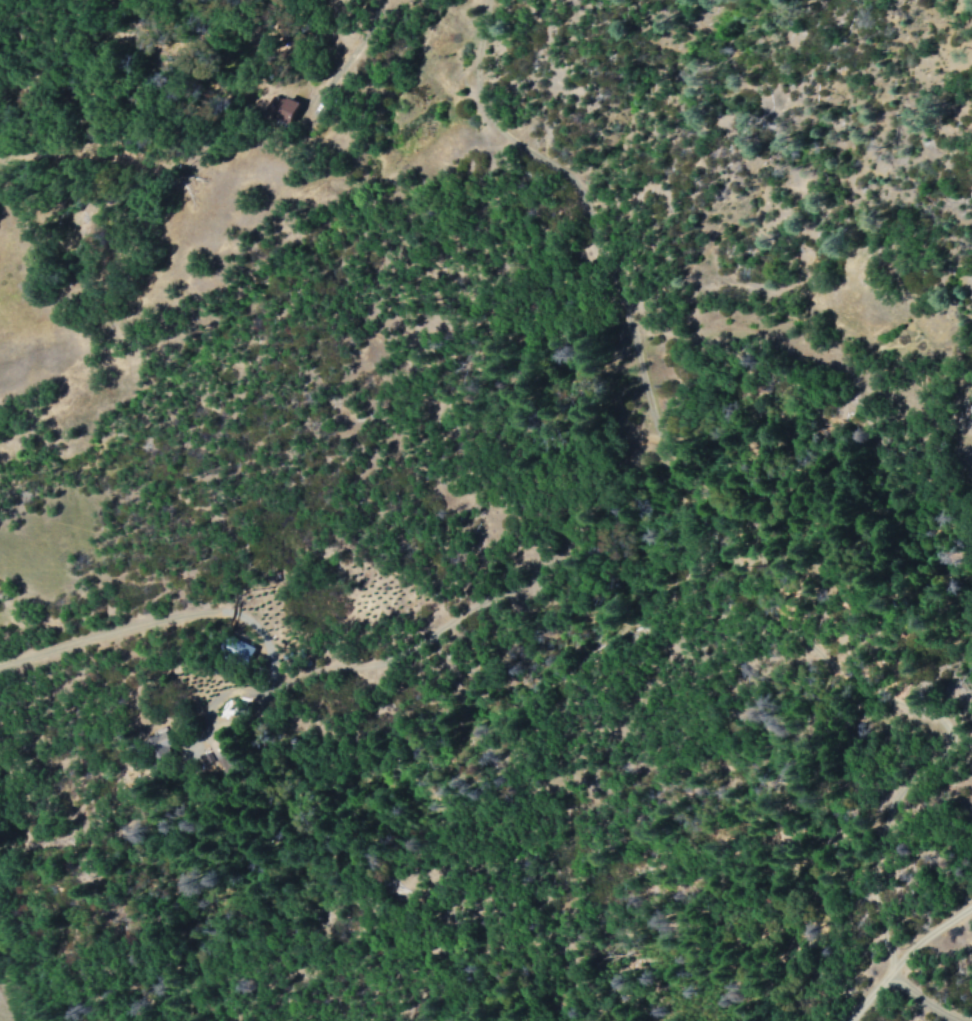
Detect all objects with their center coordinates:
building: (280, 108)
road: (662, 487)
road: (179, 618)
road: (908, 968)

